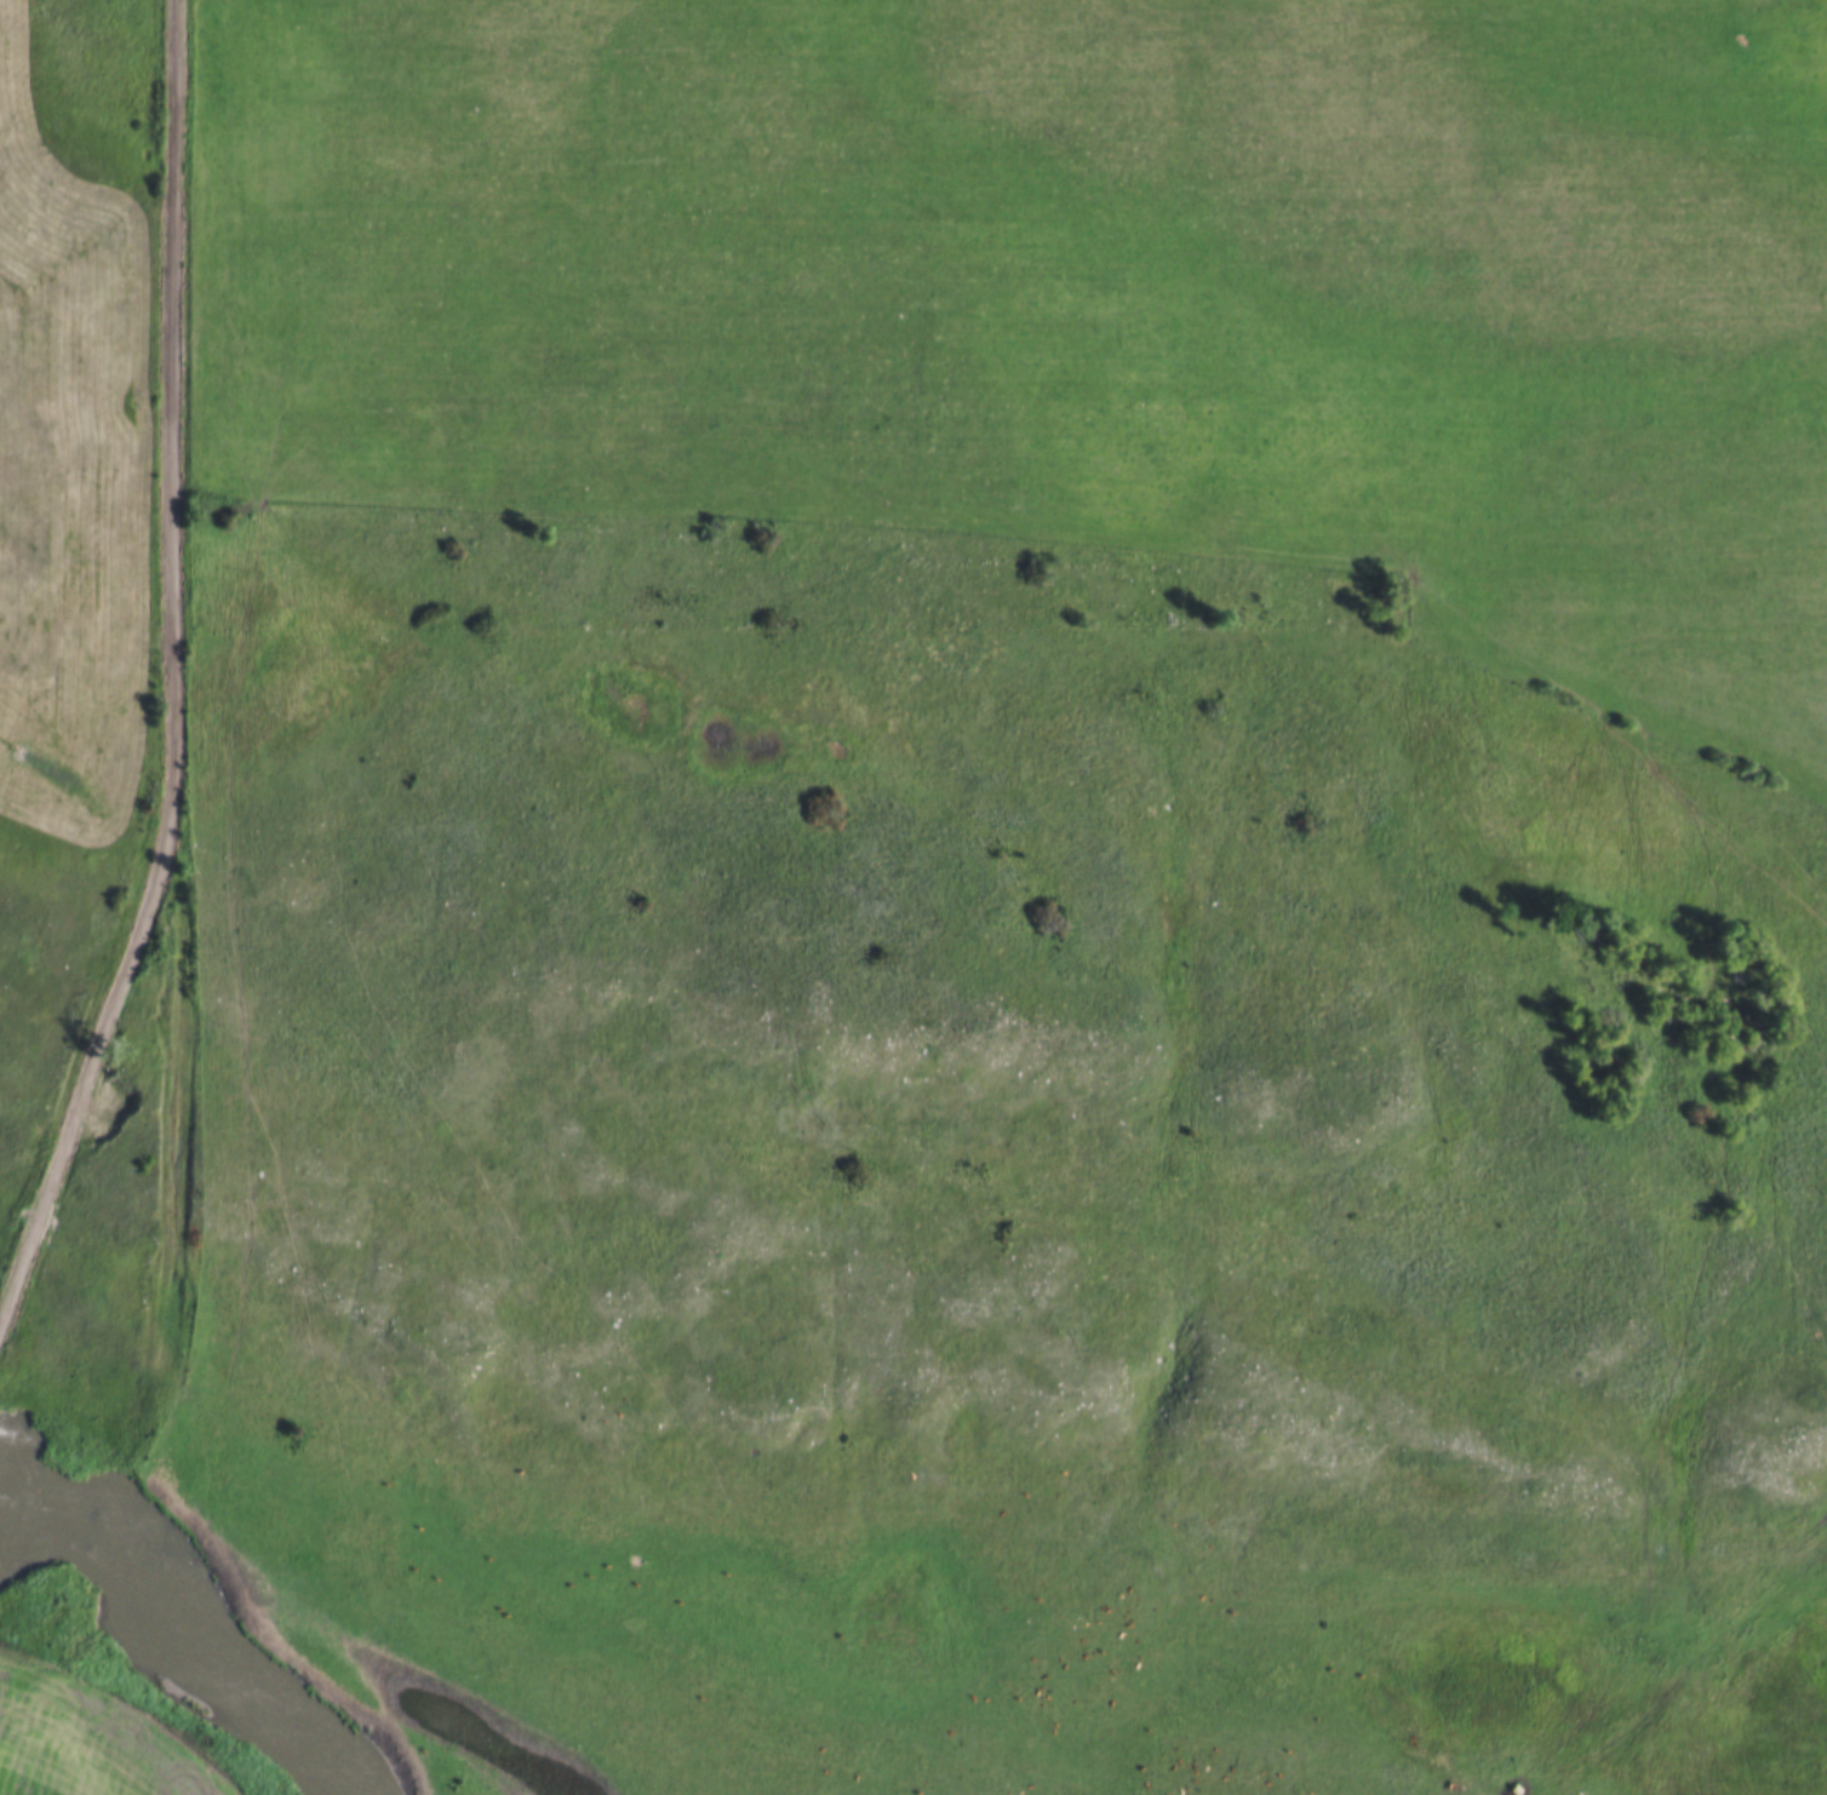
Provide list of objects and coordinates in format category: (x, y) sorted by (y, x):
road: (176, 682)
river: (173, 1634)

